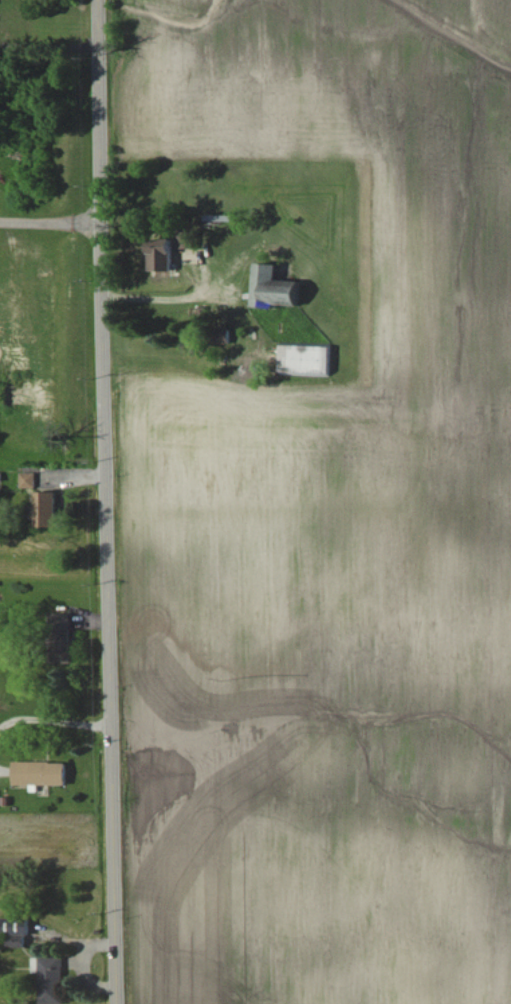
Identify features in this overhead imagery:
road: (51, 47)
road: (49, 219)
building: (170, 255)
road: (167, 294)
building: (33, 482)
road: (110, 501)
building: (52, 512)
road: (57, 721)
building: (44, 774)
building: (55, 980)

